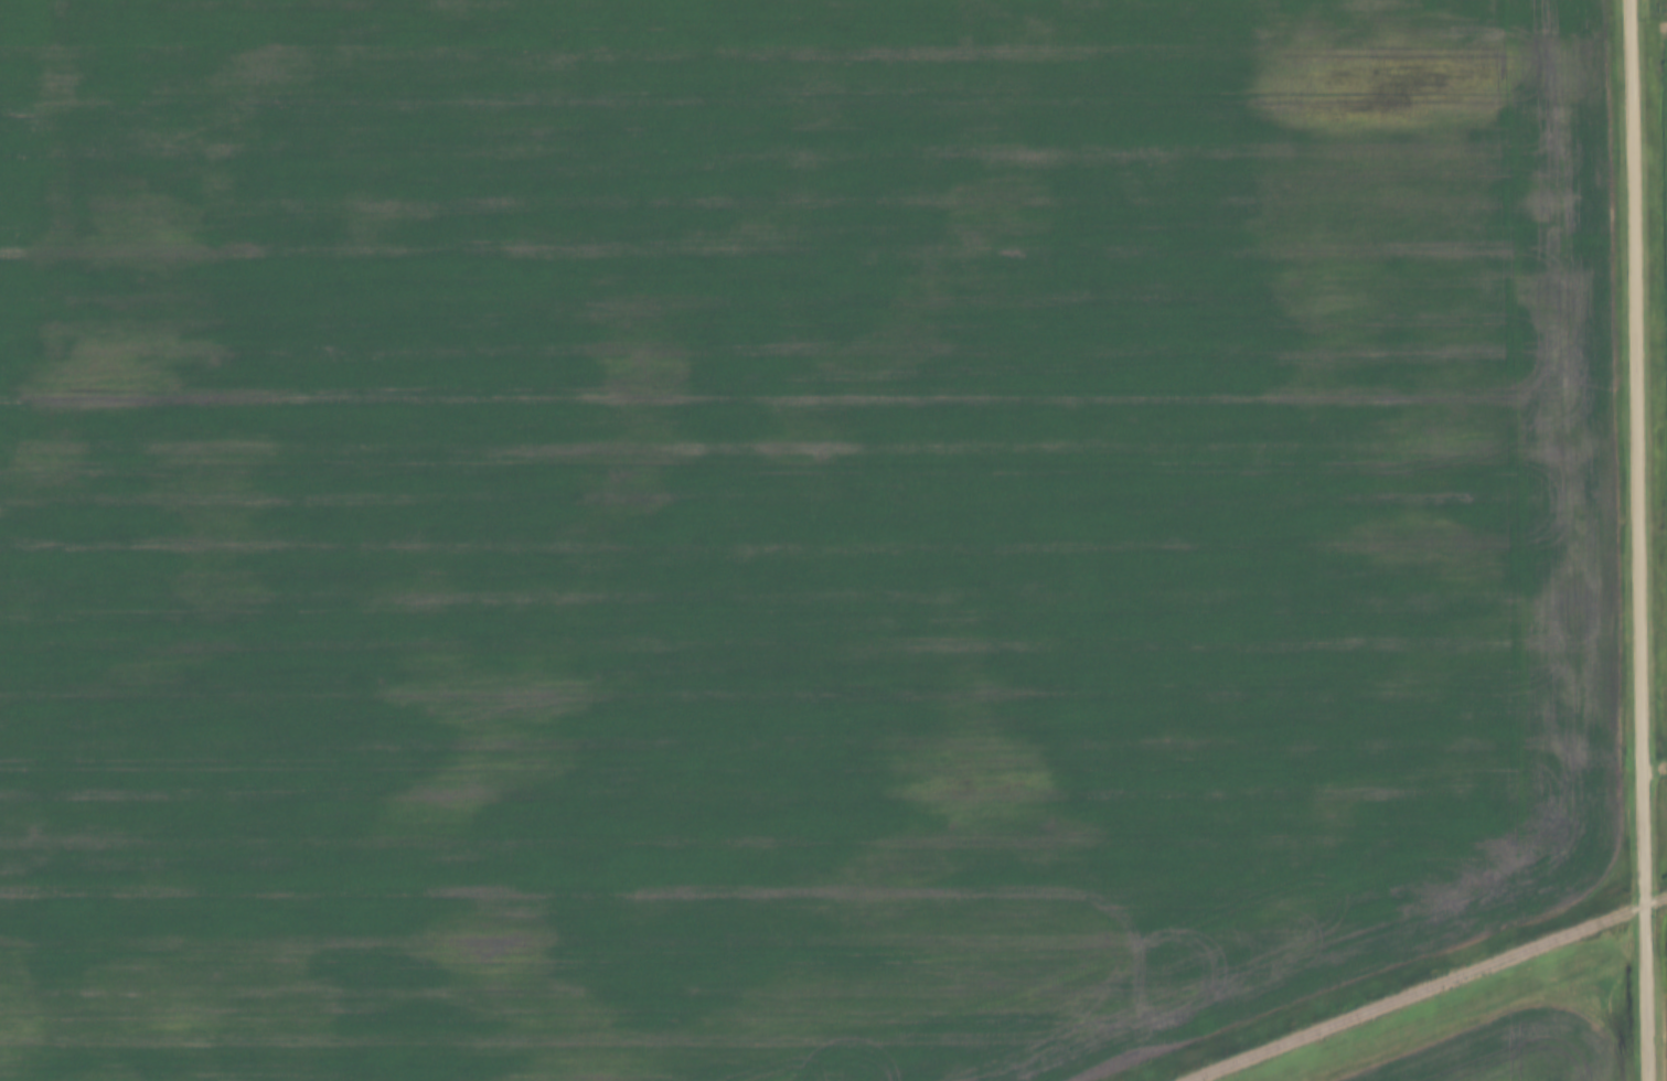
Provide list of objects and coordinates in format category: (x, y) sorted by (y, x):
road: (1637, 540)
railway: (1430, 989)

